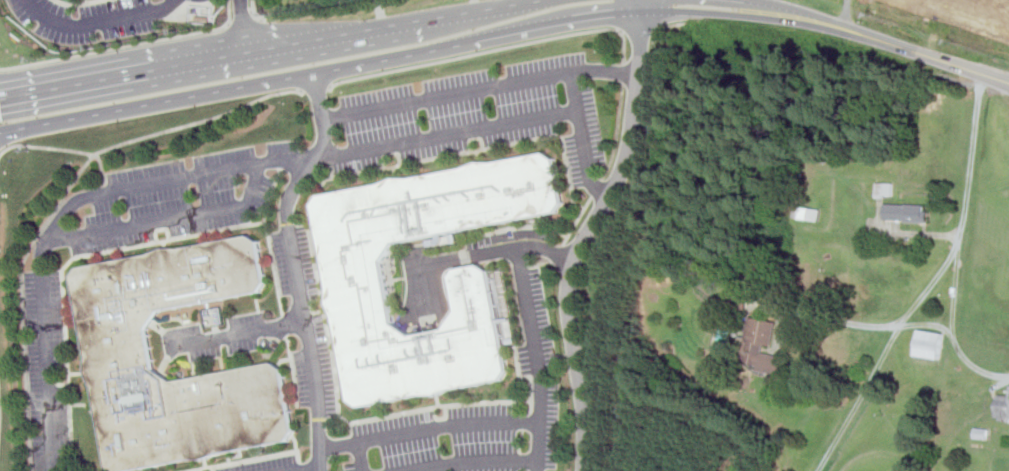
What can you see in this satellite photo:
road: (79, 4)
road: (253, 10)
road: (484, 10)
road: (794, 10)
road: (847, 14)
road: (261, 19)
road: (98, 21)
road: (243, 21)
road: (231, 25)
road: (243, 26)
road: (676, 26)
road: (640, 29)
road: (335, 35)
road: (153, 43)
road: (625, 46)
road: (419, 52)
road: (925, 54)
road: (25, 67)
road: (123, 75)
road: (624, 75)
road: (479, 90)
parking lot: (477, 116)
road: (191, 124)
road: (619, 135)
road: (581, 139)
road: (318, 148)
road: (65, 150)
road: (186, 176)
road: (597, 190)
building: (885, 190)
parking lot: (180, 197)
building: (808, 213)
building: (907, 213)
road: (169, 219)
road: (578, 223)
road: (587, 232)
road: (497, 251)
road: (558, 256)
road: (540, 265)
building: (357, 280)
road: (931, 284)
road: (423, 285)
road: (954, 291)
parking lot: (305, 319)
road: (907, 324)
road: (235, 334)
parking lot: (215, 338)
building: (117, 341)
road: (310, 343)
building: (761, 344)
building: (930, 344)
road: (535, 358)
parking lot: (47, 371)
building: (1003, 408)
parking lot: (477, 416)
road: (428, 428)
road: (361, 456)
road: (473, 461)
parking lot: (266, 464)
road: (313, 469)

